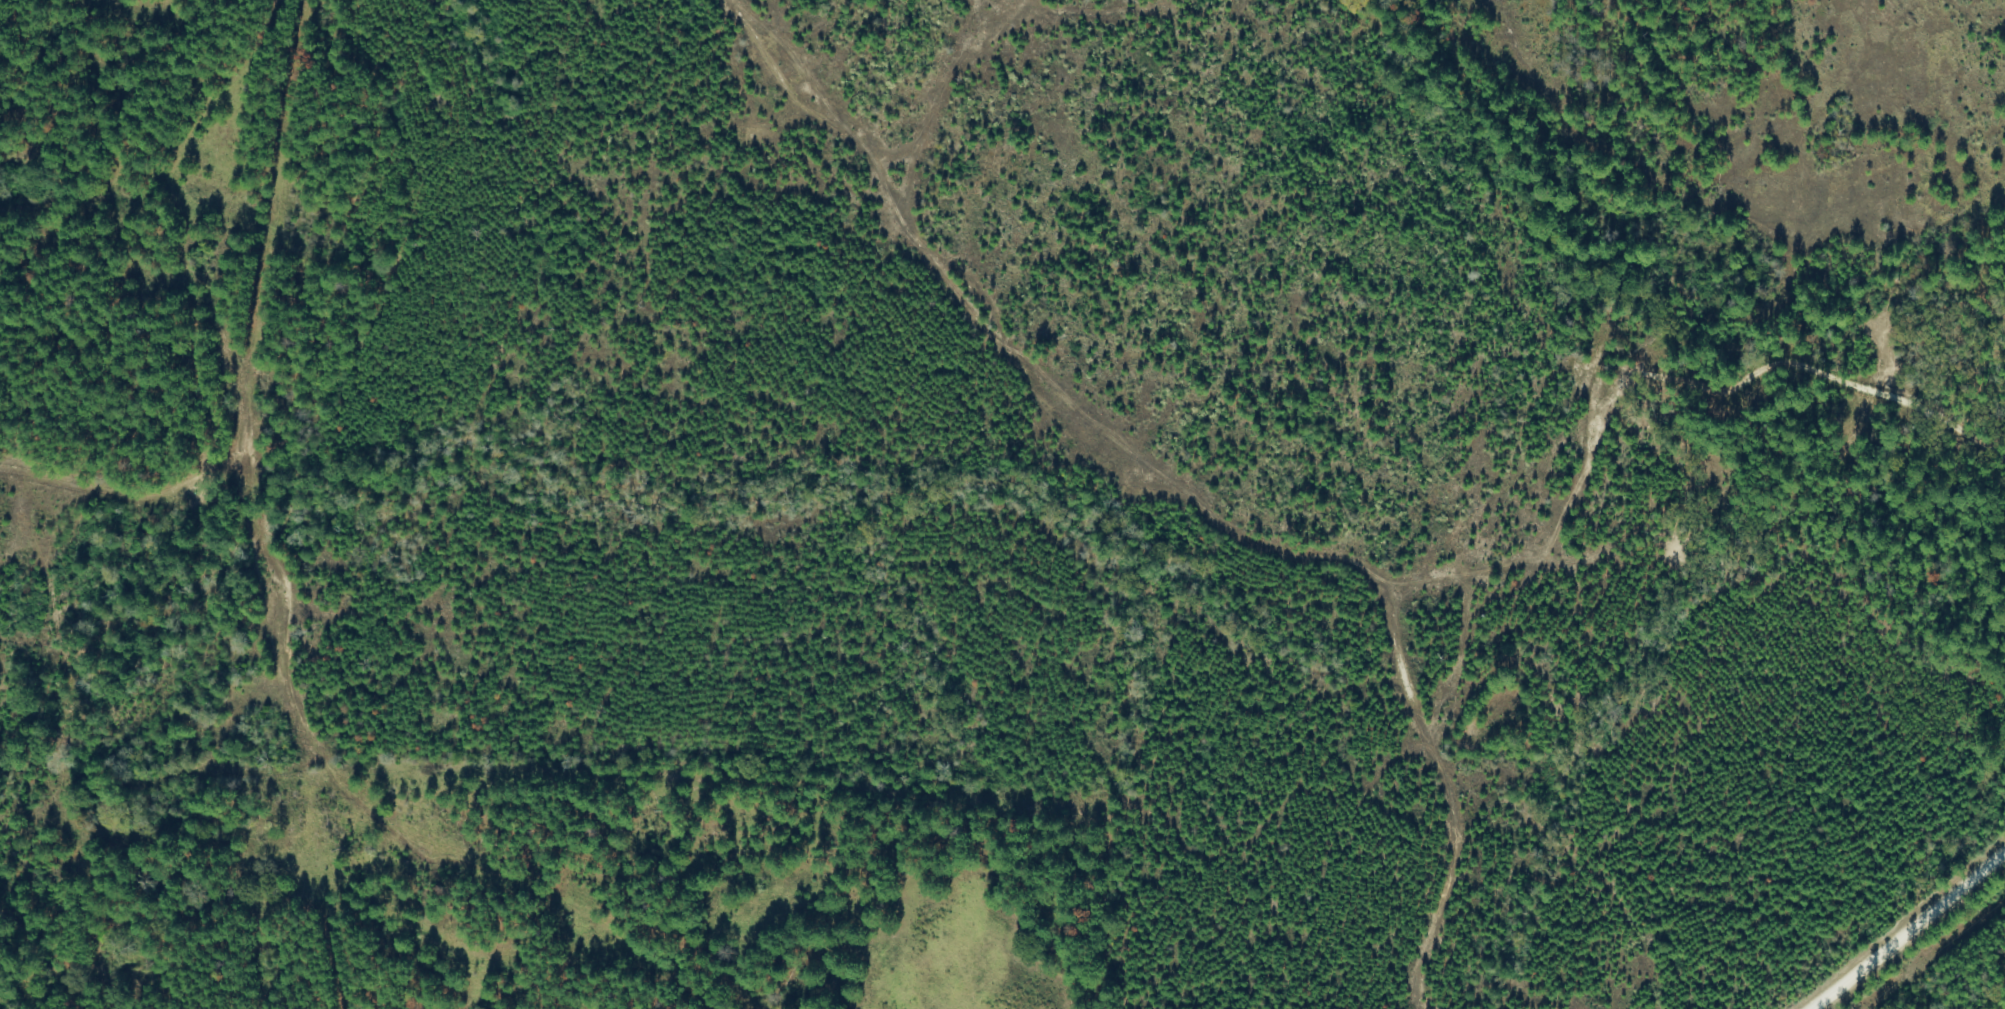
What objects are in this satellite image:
road: (1908, 927)

